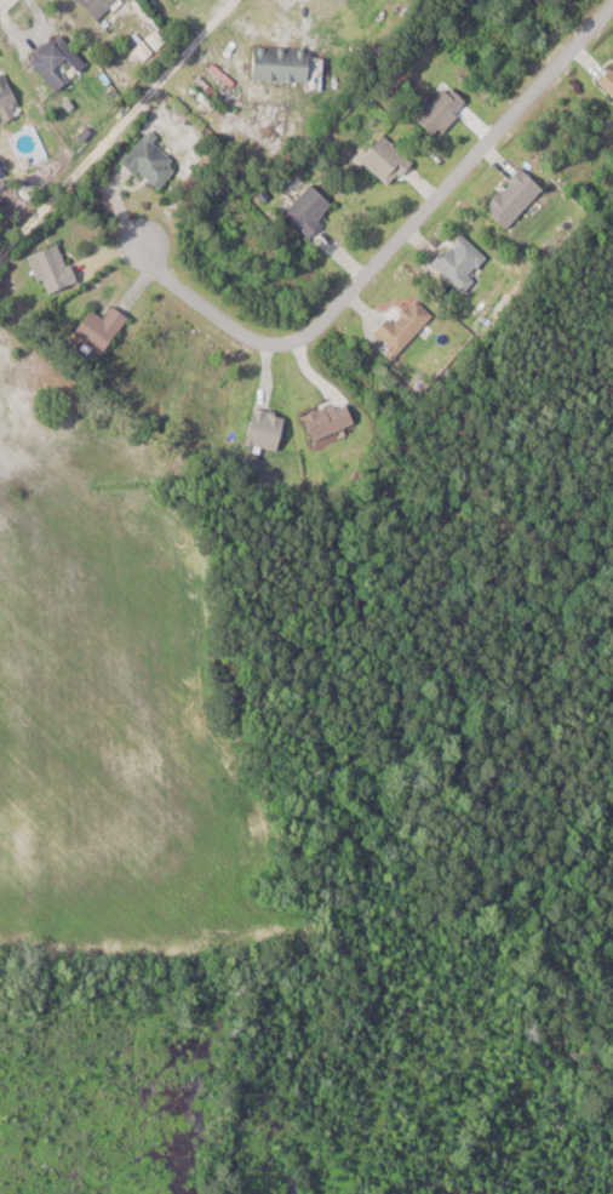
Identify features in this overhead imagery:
road: (4, 4)
building: (101, 6)
building: (58, 61)
building: (285, 63)
building: (608, 81)
building: (7, 97)
building: (443, 108)
road: (110, 124)
building: (154, 160)
building: (389, 160)
building: (517, 196)
building: (313, 208)
road: (389, 239)
building: (463, 262)
building: (56, 268)
building: (407, 324)
building: (103, 329)
building: (331, 419)
building: (269, 429)

